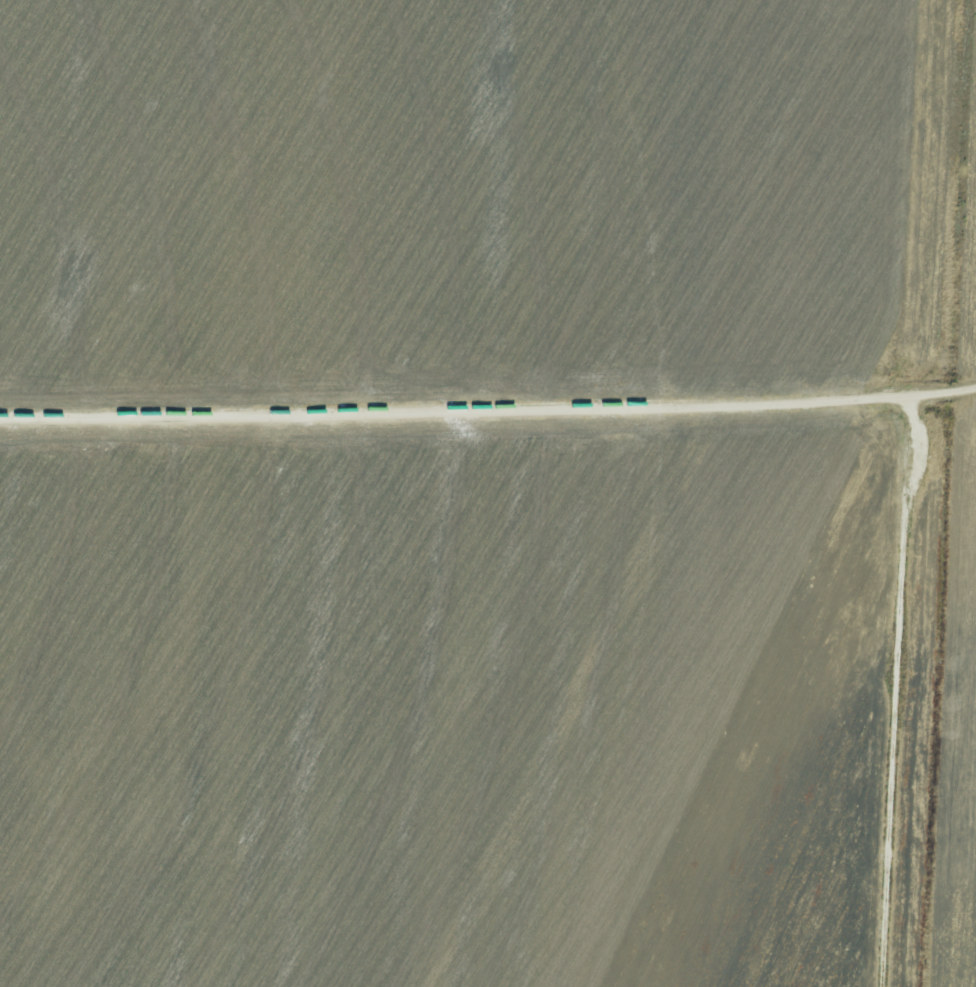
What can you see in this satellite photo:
road: (926, 695)

